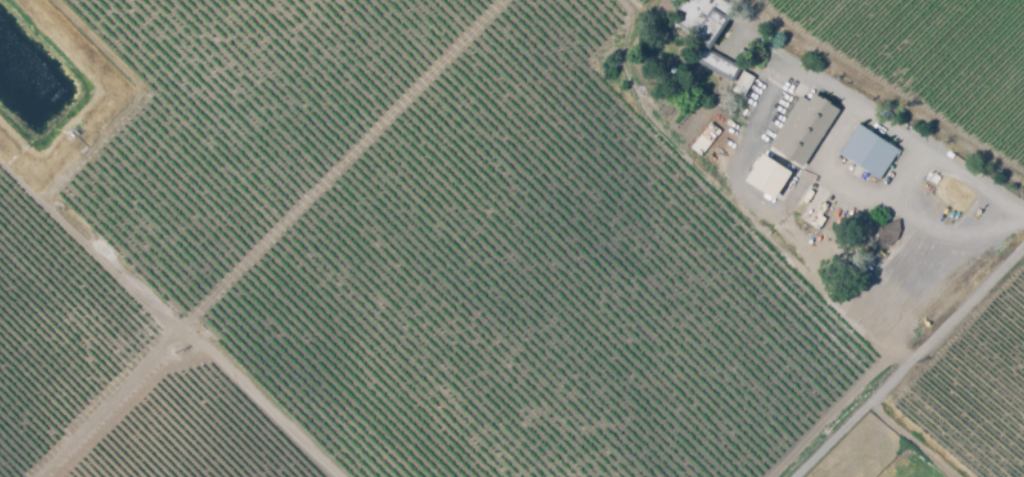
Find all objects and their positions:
building: (706, 18)
building: (739, 54)
building: (719, 63)
building: (745, 83)
road: (853, 103)
building: (806, 128)
building: (869, 152)
building: (768, 175)
building: (818, 214)
road: (751, 218)
building: (886, 231)
building: (877, 272)
building: (934, 309)
road: (903, 357)
road: (910, 436)

